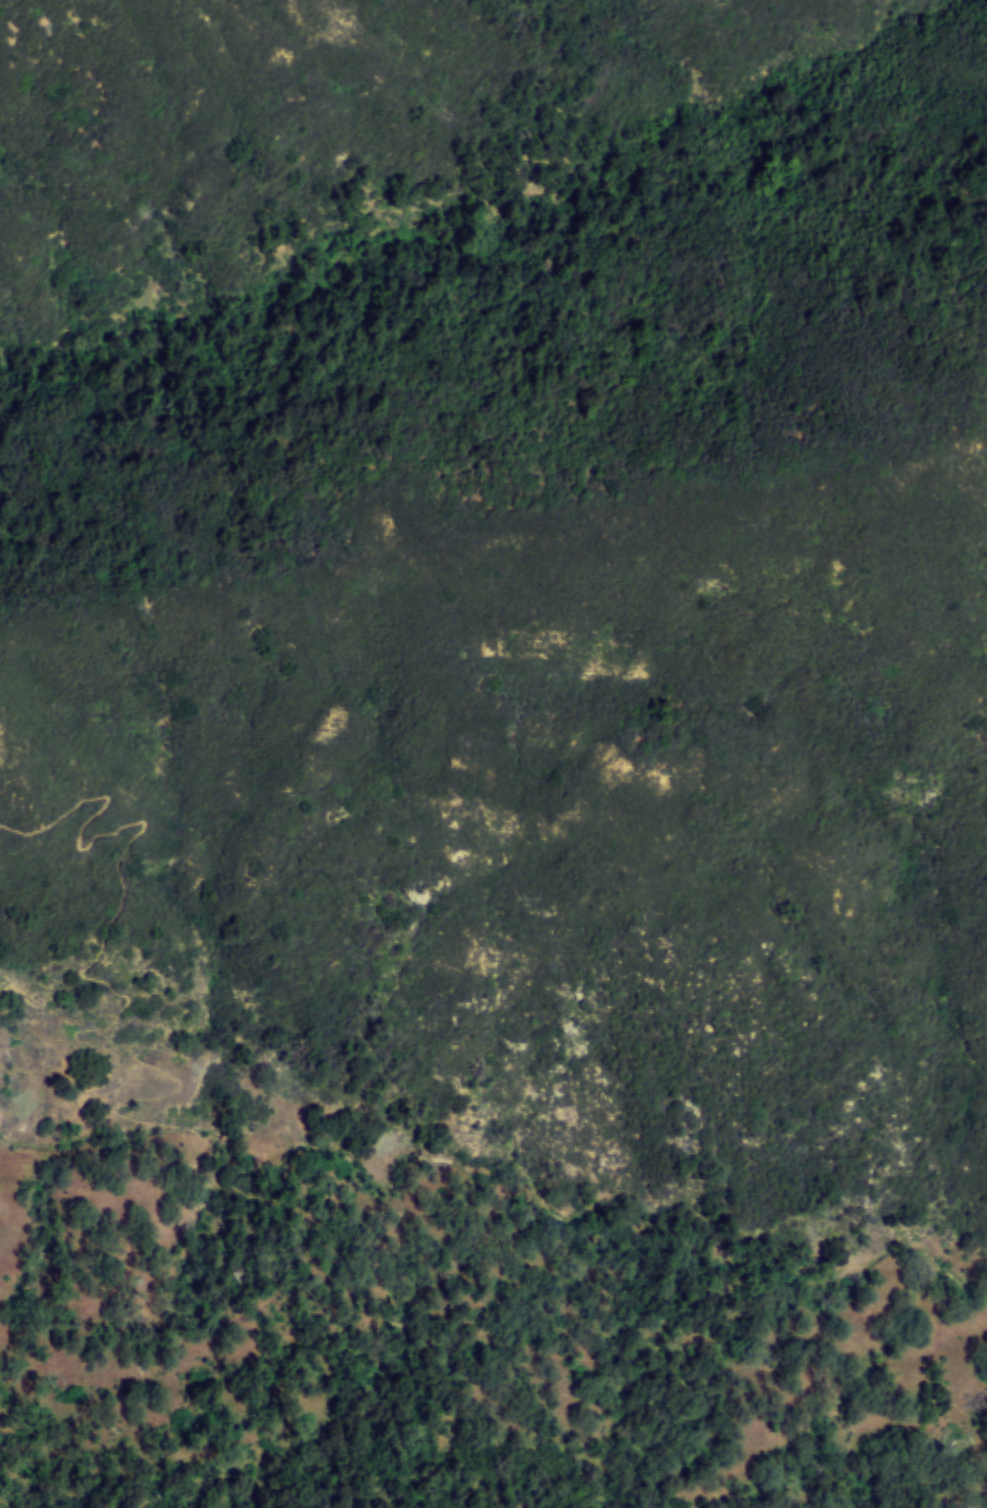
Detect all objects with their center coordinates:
road: (234, 1142)
road: (77, 1151)

